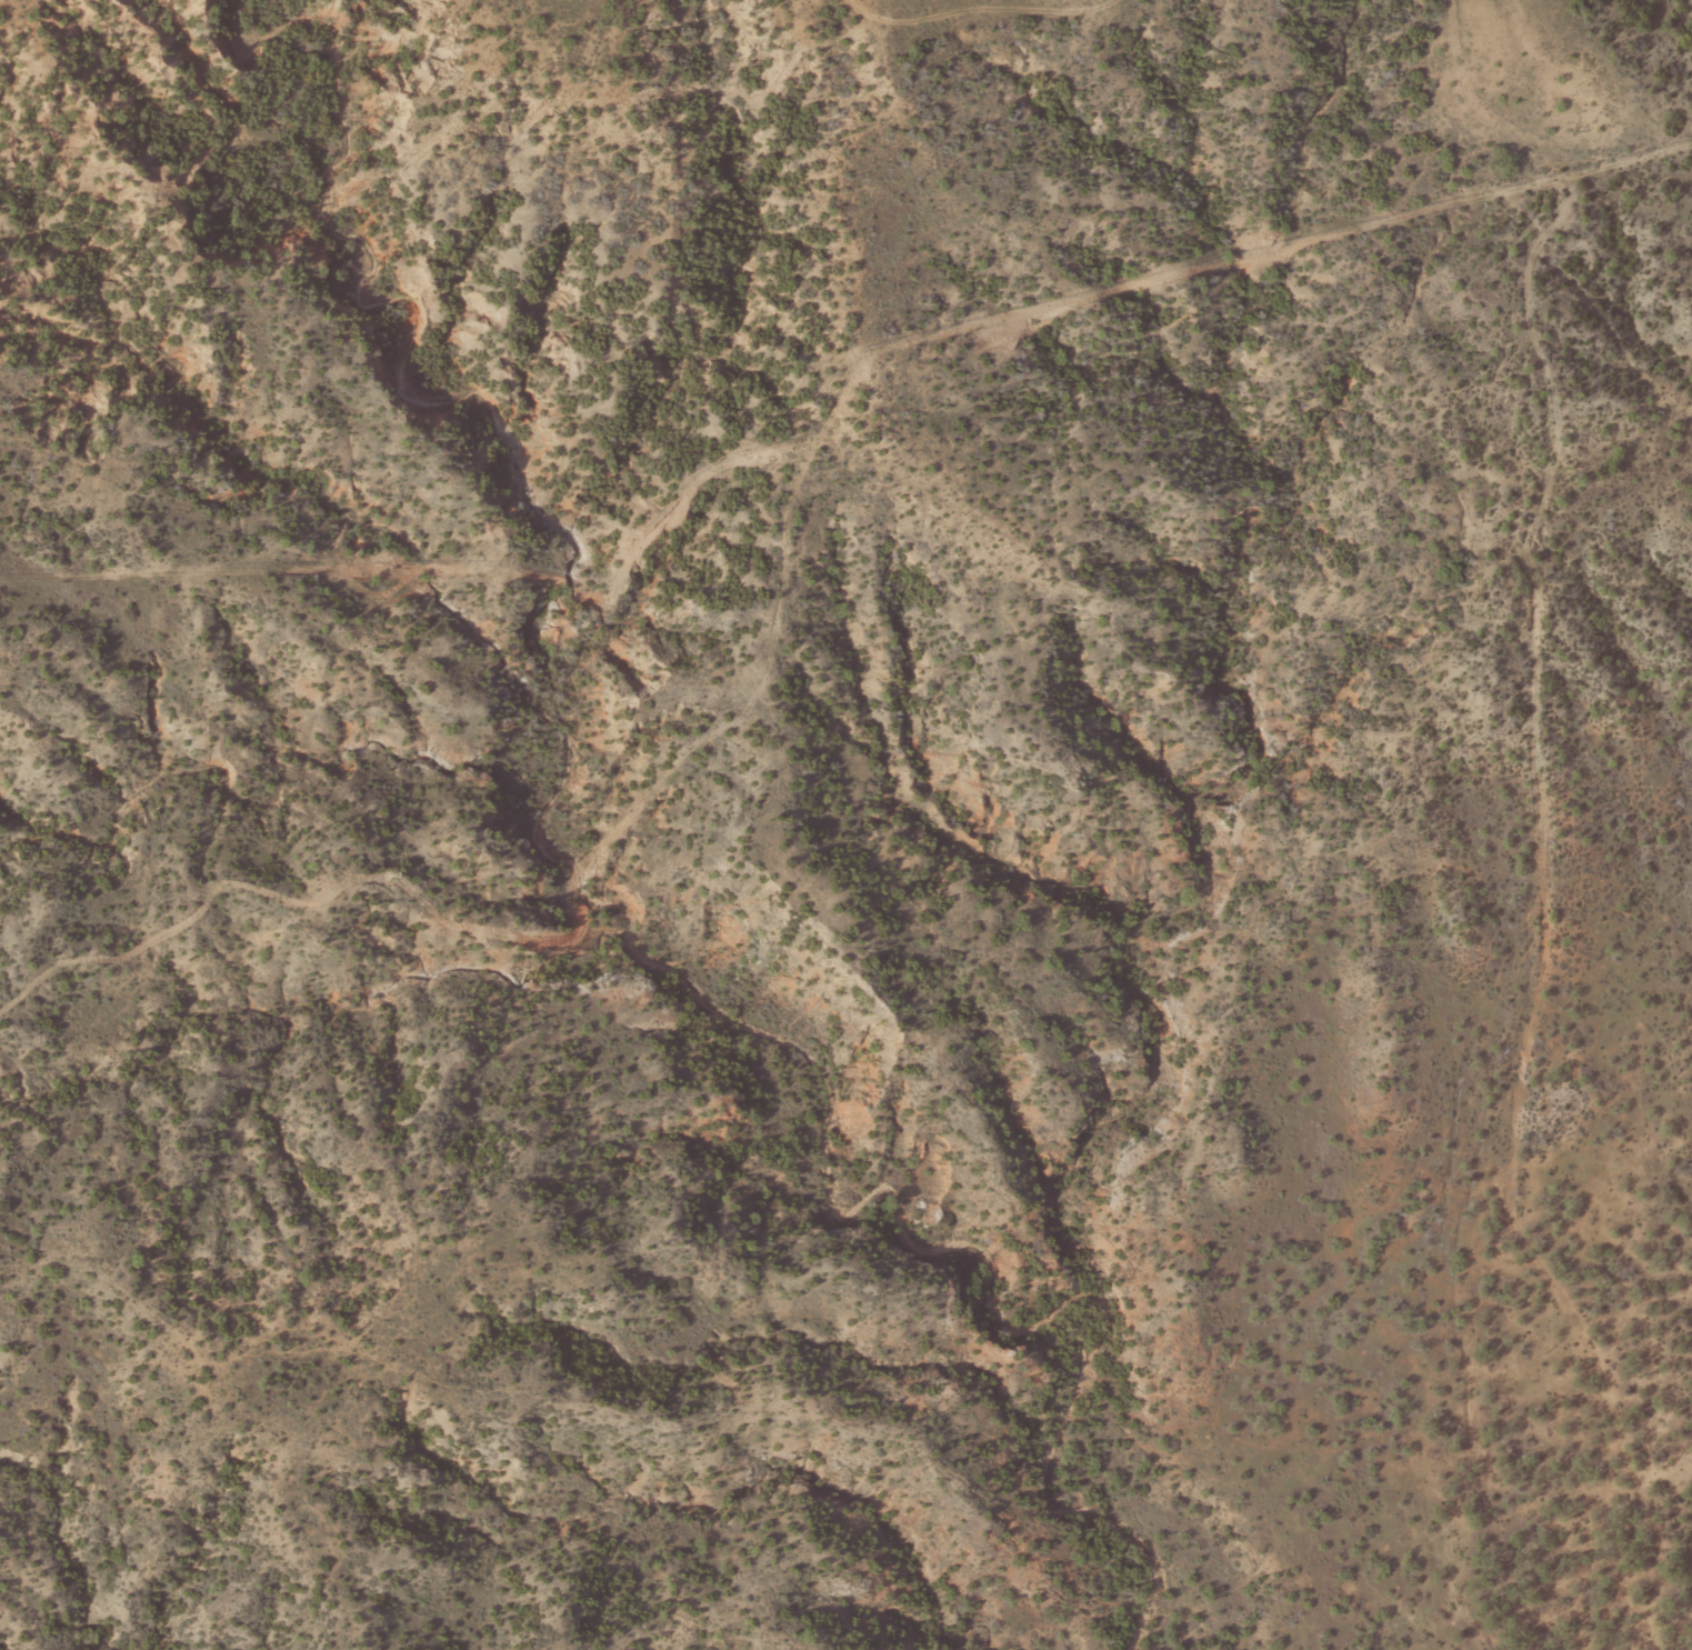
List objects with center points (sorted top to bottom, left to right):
road: (1529, 829)

